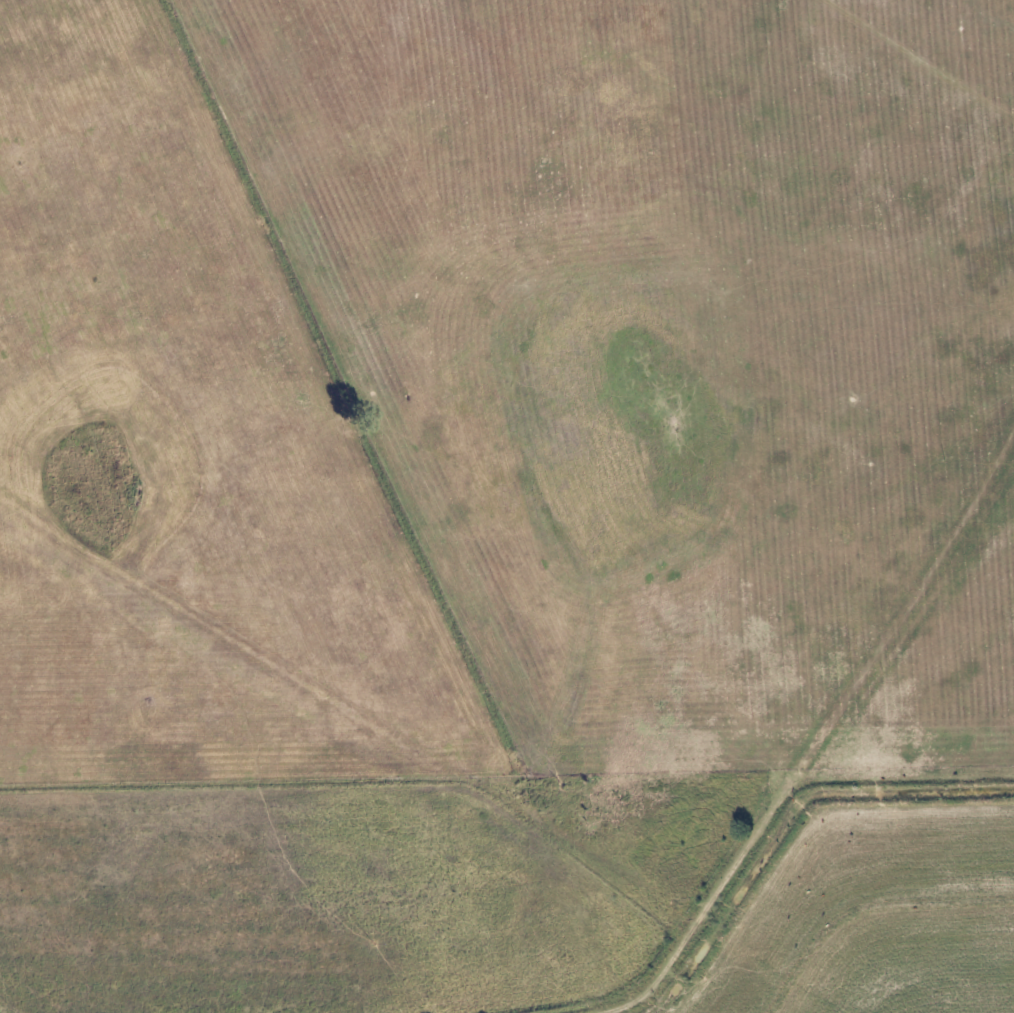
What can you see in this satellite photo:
road: (828, 735)
road: (4, 1005)

